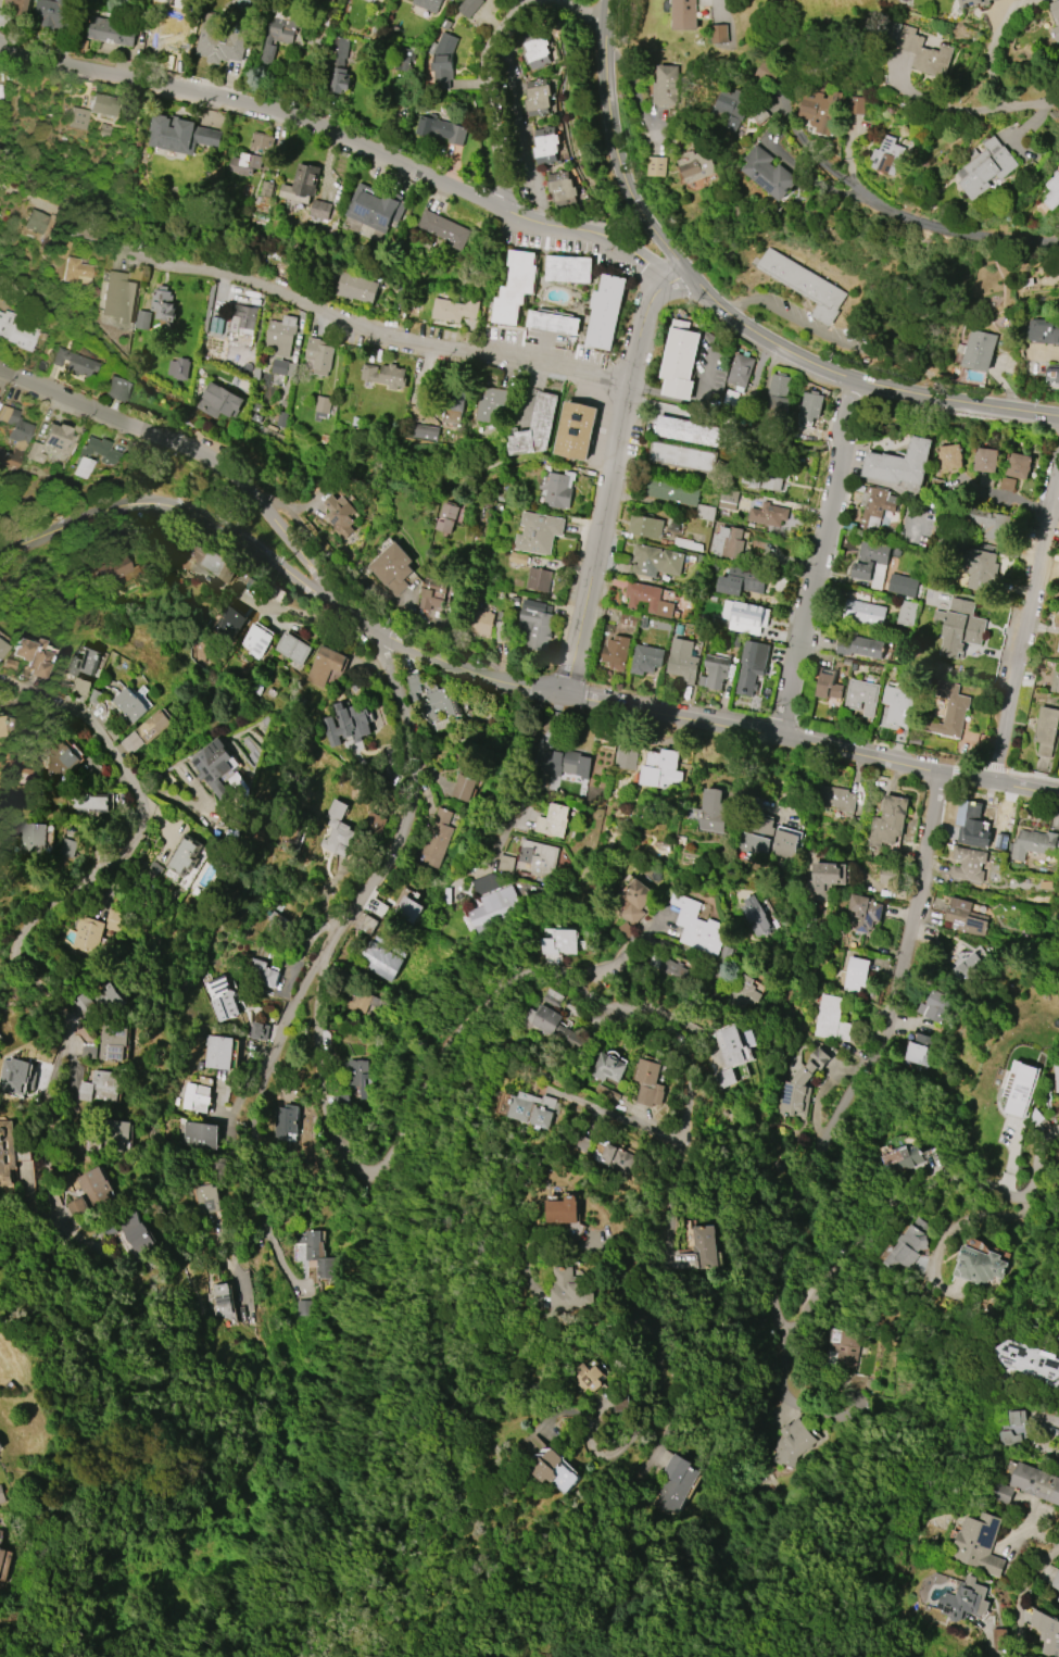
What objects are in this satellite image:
building: (976, 2)
building: (428, 4)
building: (18, 7)
building: (468, 7)
road: (719, 8)
building: (1055, 9)
road: (583, 11)
building: (55, 13)
building: (684, 14)
building: (1056, 32)
building: (110, 33)
building: (277, 36)
building: (216, 42)
building: (918, 49)
building: (534, 50)
building: (442, 60)
building: (340, 68)
road: (991, 72)
building: (667, 85)
road: (487, 93)
building: (538, 97)
building: (102, 104)
building: (856, 105)
building: (732, 106)
road: (954, 108)
building: (820, 110)
building: (77, 117)
road: (522, 126)
building: (441, 129)
building: (180, 135)
road: (344, 136)
building: (545, 146)
building: (254, 154)
building: (888, 155)
building: (696, 165)
building: (656, 166)
building: (984, 166)
building: (768, 173)
building: (302, 184)
building: (562, 189)
building: (1052, 194)
building: (375, 208)
building: (320, 210)
road: (915, 219)
building: (35, 222)
building: (444, 228)
road: (657, 236)
building: (61, 249)
building: (569, 268)
building: (75, 272)
building: (803, 284)
building: (516, 287)
building: (356, 288)
building: (117, 297)
building: (163, 304)
road: (311, 306)
building: (454, 310)
building: (605, 313)
building: (142, 319)
building: (242, 319)
building: (554, 323)
building: (1043, 330)
building: (15, 331)
building: (280, 341)
building: (978, 350)
building: (319, 355)
building: (679, 361)
building: (72, 362)
building: (178, 368)
building: (740, 371)
building: (1052, 373)
building: (384, 375)
building: (117, 388)
building: (778, 397)
road: (956, 400)
building: (219, 401)
road: (690, 401)
building: (490, 403)
building: (453, 404)
building: (810, 405)
building: (323, 407)
building: (281, 418)
building: (537, 427)
building: (577, 430)
building: (423, 431)
building: (692, 431)
building: (13, 436)
building: (56, 438)
building: (36, 452)
building: (683, 456)
building: (949, 456)
building: (111, 457)
building: (985, 460)
building: (900, 464)
building: (1018, 465)
road: (609, 473)
building: (762, 479)
building: (559, 489)
building: (672, 491)
building: (728, 499)
building: (875, 505)
building: (705, 512)
building: (768, 514)
road: (200, 516)
building: (339, 516)
building: (446, 517)
building: (988, 524)
building: (645, 526)
building: (538, 532)
building: (727, 543)
building: (686, 544)
building: (518, 558)
road: (817, 560)
building: (656, 561)
building: (871, 563)
building: (219, 565)
building: (393, 567)
building: (111, 568)
building: (981, 569)
building: (539, 579)
building: (742, 581)
building: (903, 585)
building: (431, 593)
building: (647, 599)
building: (863, 613)
building: (907, 613)
building: (745, 616)
building: (481, 622)
building: (228, 624)
building: (534, 624)
building: (960, 628)
road: (1029, 631)
building: (256, 641)
building: (2, 647)
building: (860, 647)
building: (292, 649)
building: (1058, 650)
building: (615, 652)
building: (33, 656)
building: (646, 658)
building: (682, 661)
building: (84, 663)
building: (324, 665)
building: (751, 665)
road: (487, 668)
building: (714, 671)
building: (1055, 681)
building: (413, 685)
building: (828, 686)
building: (80, 687)
building: (861, 696)
building: (437, 702)
building: (129, 705)
building: (897, 705)
building: (949, 712)
building: (346, 724)
building: (153, 726)
building: (1, 727)
building: (1046, 730)
road: (532, 755)
building: (625, 756)
building: (61, 760)
building: (563, 765)
building: (213, 766)
building: (659, 768)
building: (464, 787)
building: (836, 799)
building: (90, 802)
road: (407, 807)
building: (713, 811)
building: (552, 820)
building: (888, 821)
building: (374, 823)
building: (338, 830)
building: (438, 837)
building: (33, 839)
building: (769, 840)
road: (501, 842)
building: (1031, 843)
building: (68, 846)
building: (187, 855)
building: (538, 857)
building: (505, 862)
building: (968, 864)
building: (824, 879)
building: (634, 902)
building: (409, 908)
building: (492, 908)
building: (863, 912)
building: (756, 916)
building: (965, 917)
road: (35, 921)
building: (275, 925)
building: (696, 926)
building: (94, 930)
building: (562, 942)
building: (380, 961)
road: (609, 964)
building: (968, 967)
building: (678, 971)
building: (261, 974)
building: (855, 974)
road: (569, 980)
building: (736, 993)
building: (554, 997)
building: (108, 999)
building: (220, 999)
building: (361, 1002)
building: (936, 1005)
building: (831, 1019)
building: (554, 1026)
building: (257, 1031)
building: (112, 1042)
building: (730, 1044)
building: (919, 1051)
building: (88, 1052)
building: (217, 1052)
building: (607, 1068)
building: (1057, 1074)
building: (356, 1076)
building: (724, 1078)
building: (650, 1083)
building: (800, 1085)
building: (101, 1087)
building: (1022, 1088)
building: (193, 1097)
building: (545, 1109)
road: (619, 1117)
building: (282, 1121)
road: (253, 1127)
building: (117, 1134)
building: (197, 1134)
building: (5, 1152)
building: (616, 1158)
building: (900, 1158)
building: (93, 1188)
building: (204, 1198)
building: (564, 1210)
building: (135, 1231)
building: (703, 1246)
road: (793, 1248)
building: (907, 1248)
building: (315, 1253)
building: (979, 1266)
building: (571, 1290)
building: (217, 1300)
building: (1058, 1341)
building: (1058, 1343)
building: (1026, 1359)
building: (590, 1377)
building: (1017, 1417)
building: (790, 1442)
building: (1, 1445)
building: (1058, 1447)
building: (1058, 1458)
building: (549, 1465)
building: (1035, 1482)
building: (672, 1484)
building: (1004, 1494)
building: (1, 1495)
building: (979, 1544)
building: (1, 1555)
road: (1041, 1566)
building: (1056, 1581)
building: (1058, 1599)
building: (965, 1600)
building: (1058, 1608)
road: (1018, 1620)
building: (1046, 1632)

